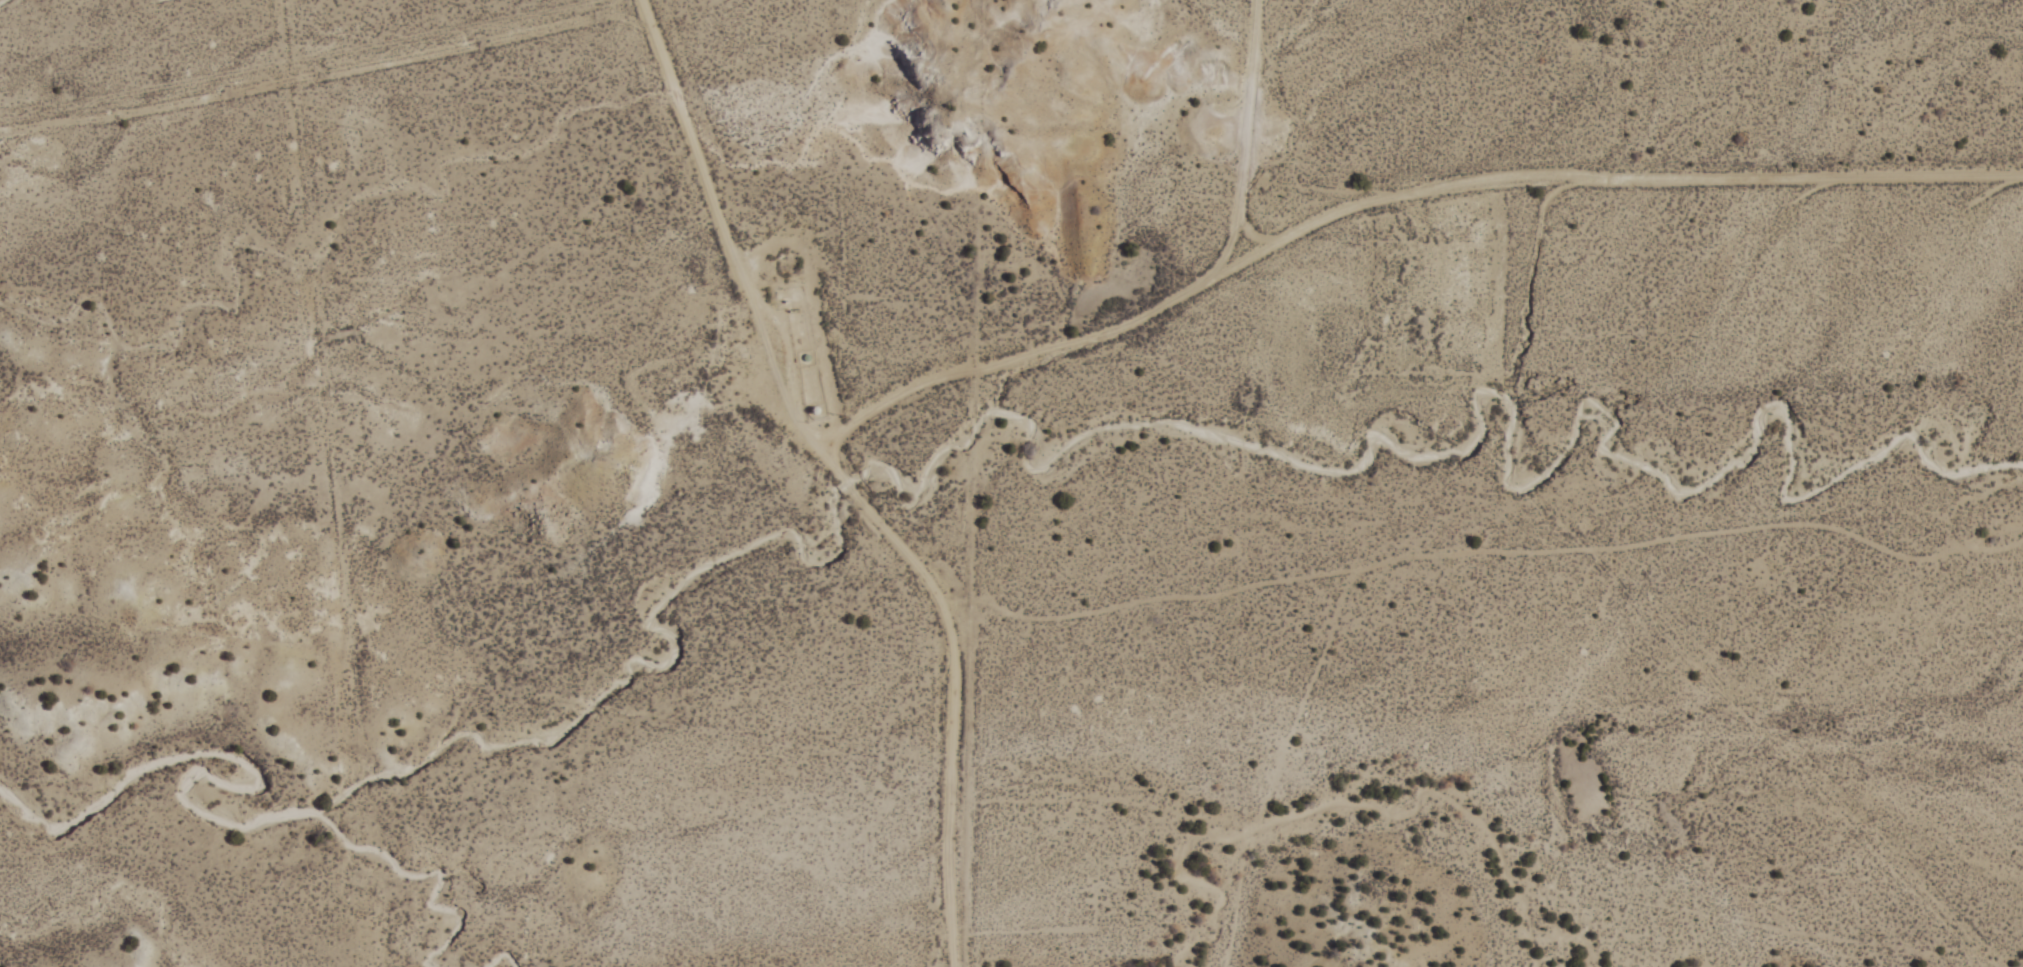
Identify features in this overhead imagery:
road: (2004, 199)
road: (899, 475)
river: (253, 809)
river: (1359, 812)

